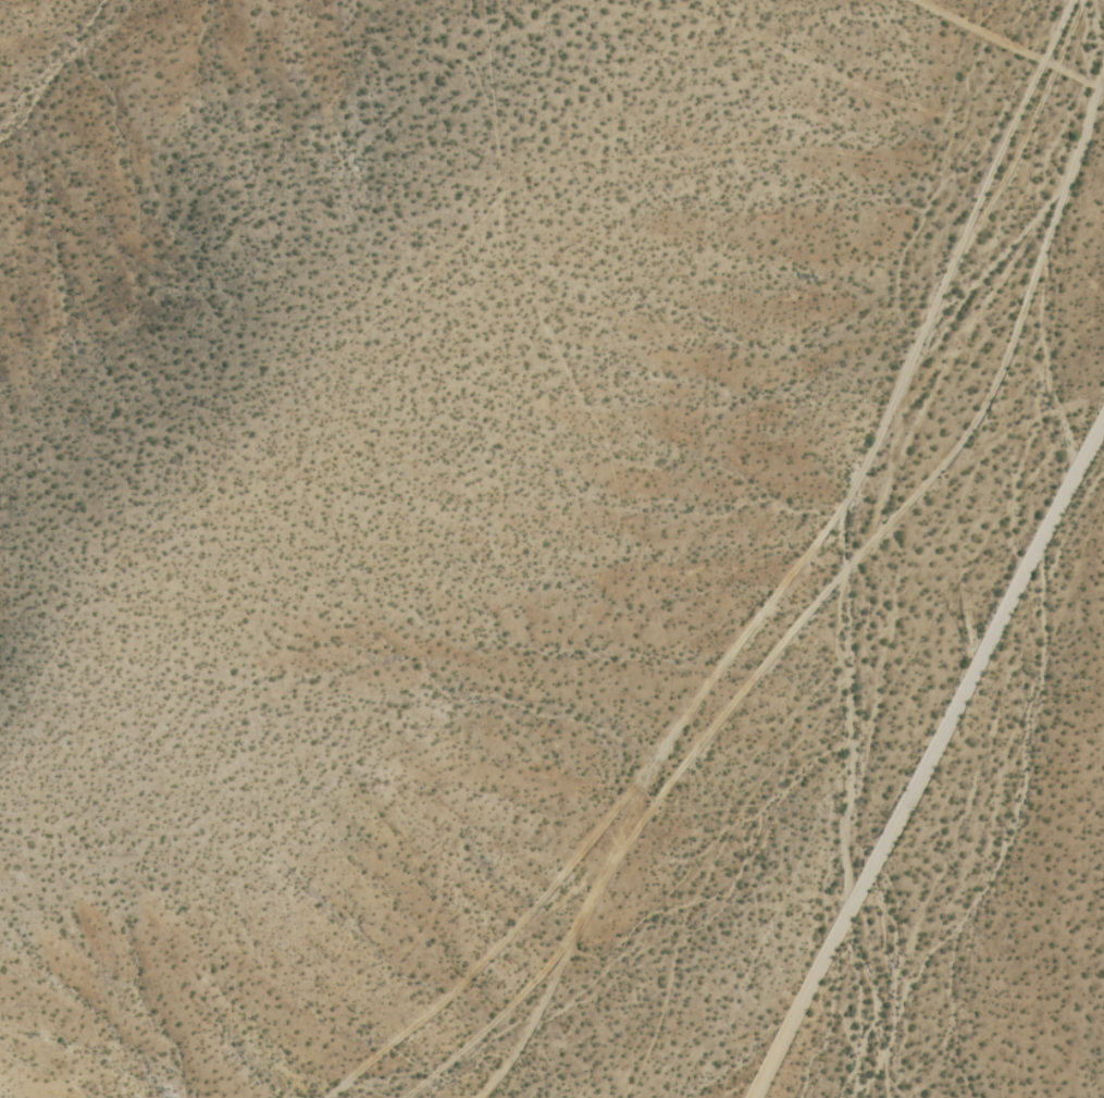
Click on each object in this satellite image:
road: (923, 753)

